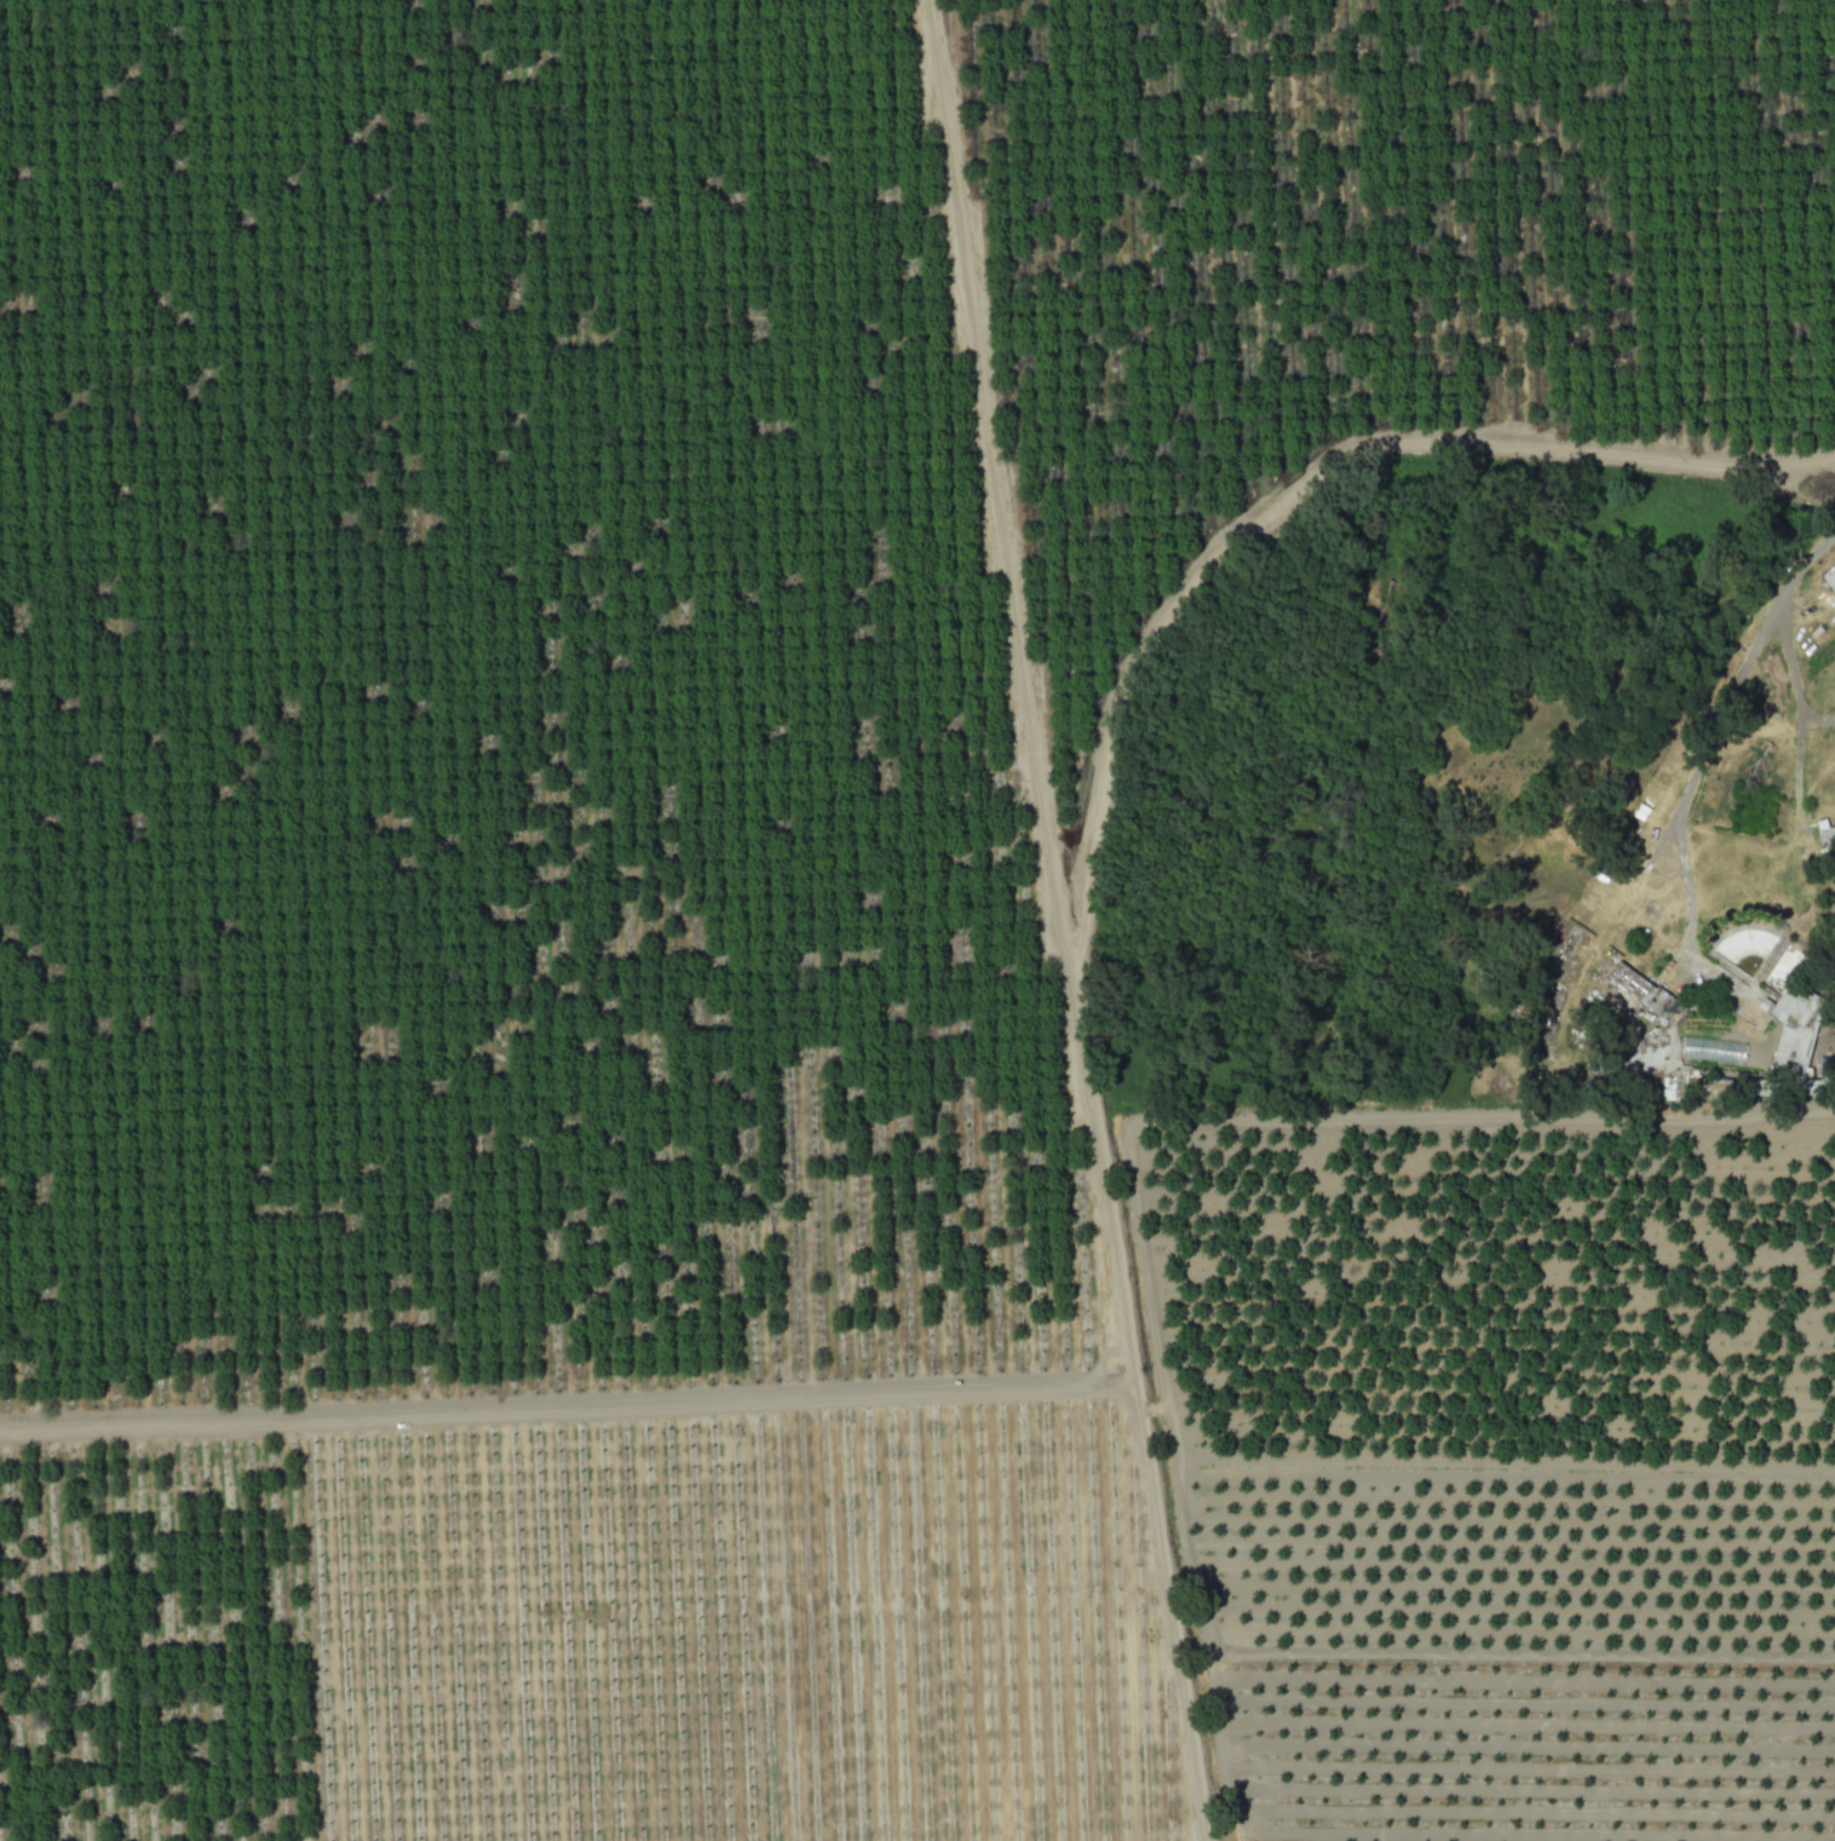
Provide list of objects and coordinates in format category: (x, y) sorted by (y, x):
road: (1802, 563)
building: (1830, 580)
building: (1834, 598)
road: (1791, 689)
road: (1698, 773)
road: (1796, 778)
crop: (803, 903)
road: (1053, 920)
crop: (1828, 930)
building: (1644, 991)
building: (1712, 1049)
building: (1720, 1087)
crop: (1379, 1839)

